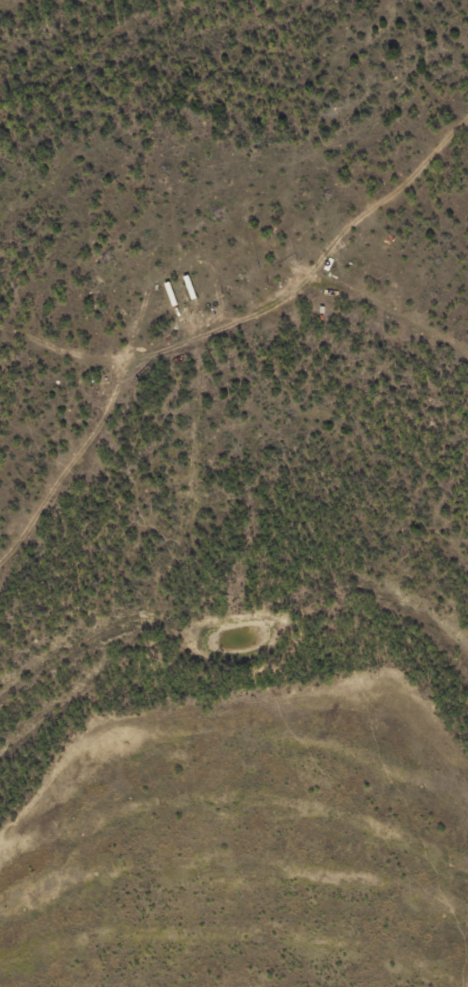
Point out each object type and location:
road: (410, 170)

